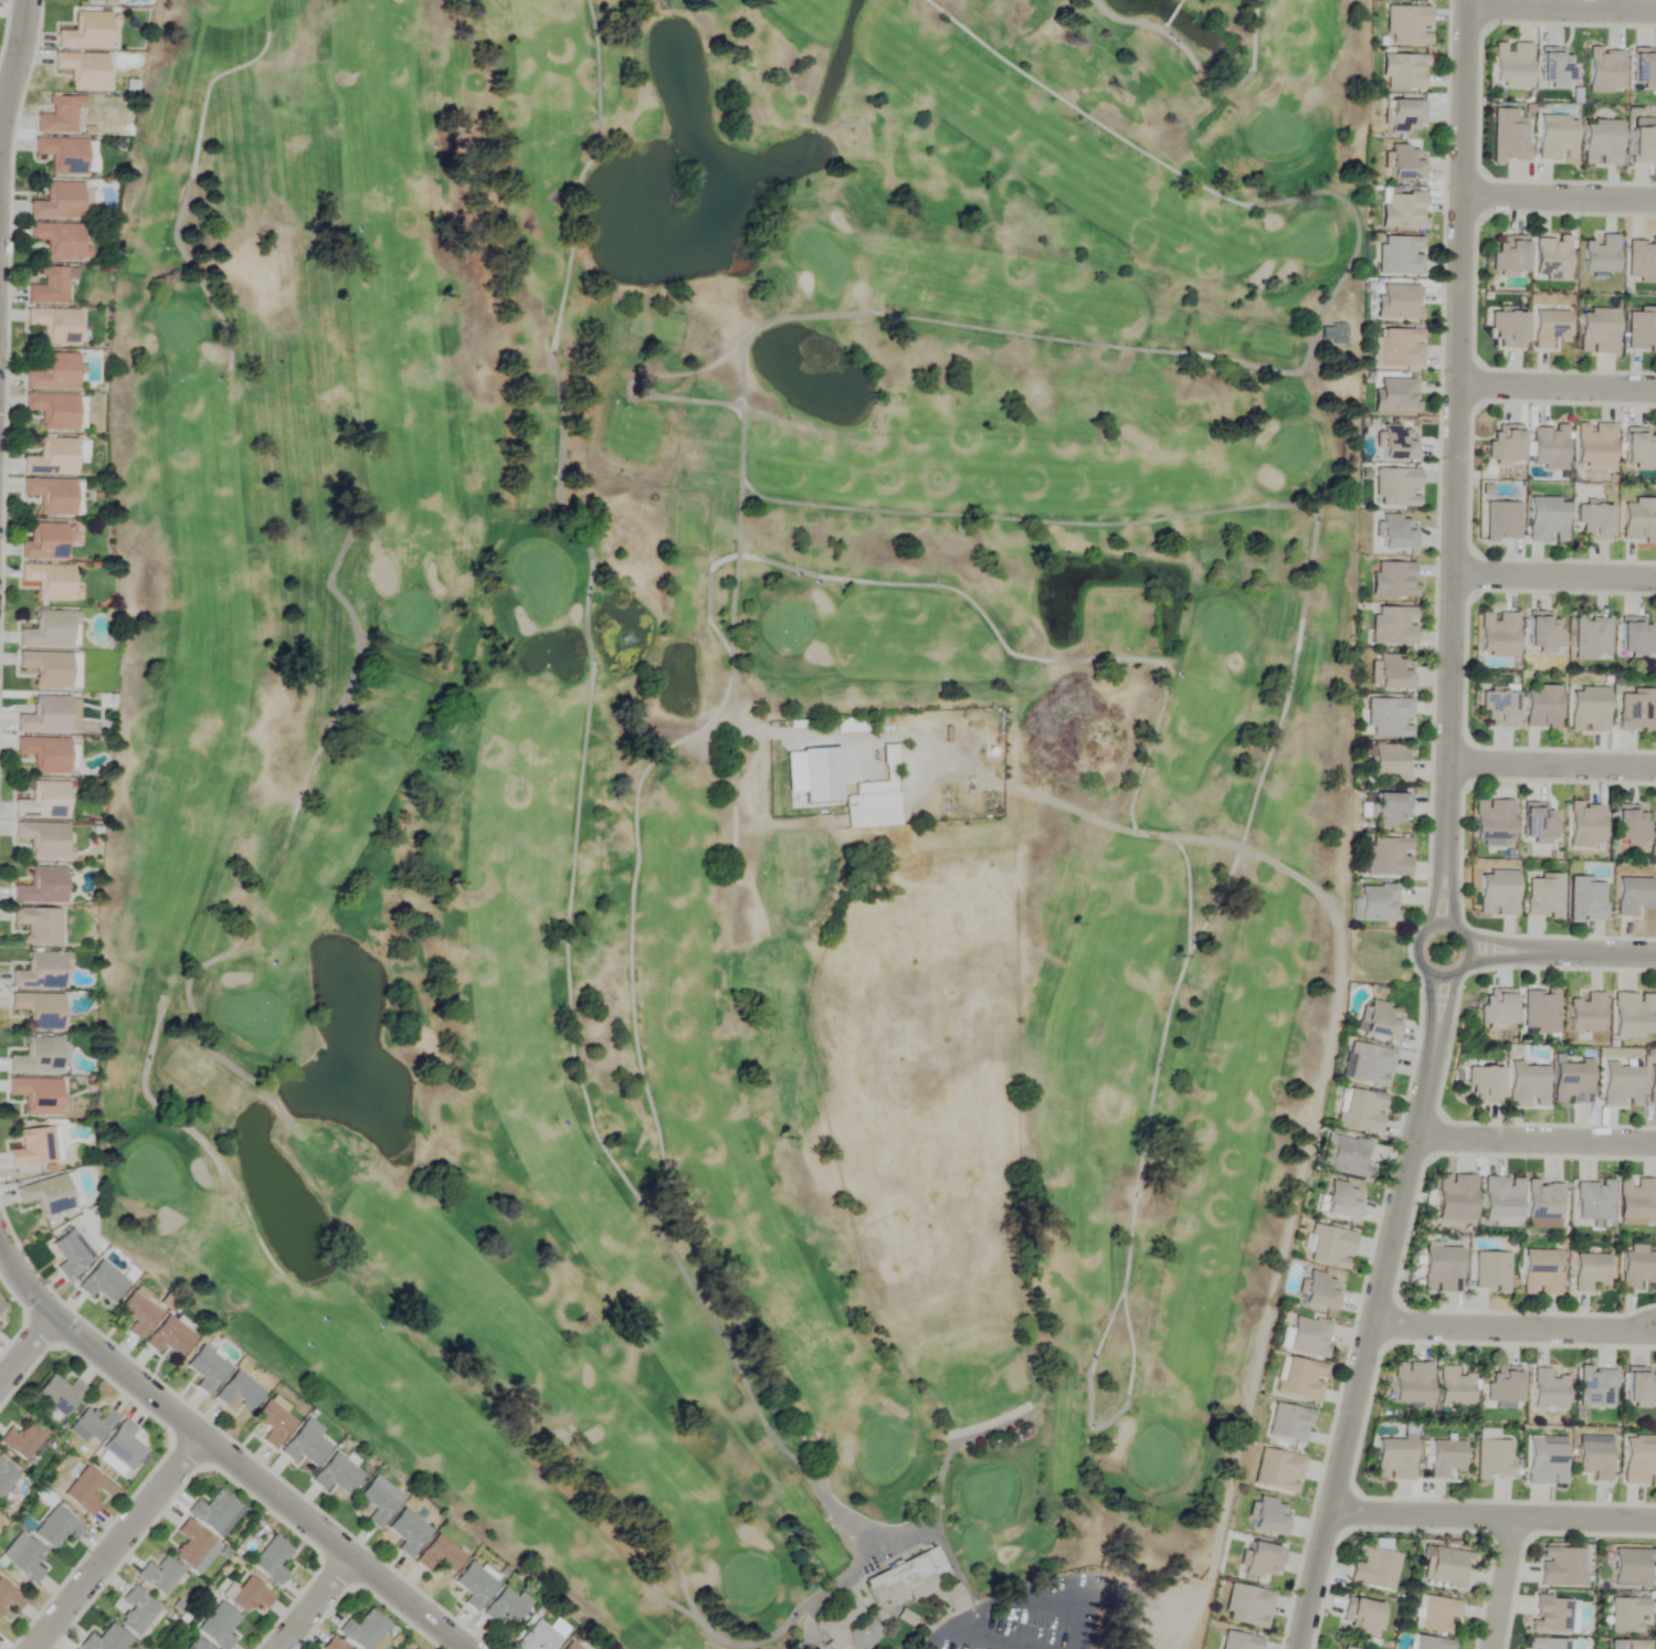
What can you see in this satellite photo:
building: (95, 0)
road: (1562, 6)
building: (1406, 25)
building: (86, 32)
building: (1511, 65)
building: (1555, 67)
building: (1643, 68)
building: (83, 70)
building: (1604, 70)
building: (1403, 72)
road: (11, 74)
building: (60, 115)
building: (1405, 116)
building: (1508, 136)
building: (1555, 138)
building: (1643, 141)
building: (1601, 142)
building: (62, 154)
building: (1405, 162)
road: (1559, 194)
building: (57, 202)
building: (1403, 211)
building: (60, 241)
building: (1510, 255)
building: (1600, 255)
building: (1400, 256)
building: (1551, 257)
building: (1641, 261)
building: (51, 286)
building: (1397, 303)
building: (55, 326)
building: (1549, 328)
building: (1507, 329)
building: (1641, 330)
building: (1597, 331)
building: (1399, 348)
building: (53, 373)
road: (1555, 384)
building: (1395, 397)
building: (53, 411)
road: (1454, 426)
building: (1397, 443)
building: (1505, 445)
building: (1593, 445)
building: (1548, 447)
building: (1638, 447)
building: (52, 458)
building: (1396, 488)
building: (50, 496)
building: (1547, 520)
building: (1638, 520)
building: (1501, 521)
building: (1593, 522)
building: (1396, 533)
building: (44, 542)
road: (1553, 573)
building: (1392, 580)
building: (49, 581)
building: (1392, 626)
building: (51, 631)
building: (1542, 631)
building: (1498, 635)
building: (1590, 638)
building: (1634, 638)
building: (50, 669)
building: (1393, 673)
building: (1498, 707)
building: (1541, 708)
building: (1588, 710)
building: (1635, 711)
building: (45, 717)
building: (1389, 718)
building: (44, 754)
building: (1391, 763)
road: (1551, 763)
park: (730, 771)
building: (840, 791)
building: (43, 802)
building: (1390, 811)
building: (1491, 823)
building: (1537, 823)
building: (1629, 825)
building: (1585, 826)
building: (44, 839)
building: (1386, 858)
building: (41, 887)
road: (1451, 887)
road: (1433, 888)
building: (1498, 894)
building: (1543, 897)
building: (1633, 898)
building: (1585, 900)
building: (1377, 903)
road: (1432, 921)
building: (38, 926)
road: (1499, 938)
road: (1594, 951)
road: (1500, 955)
building: (41, 972)
building: (1496, 1007)
building: (39, 1010)
road: (1431, 1010)
road: (1445, 1011)
building: (1539, 1011)
building: (1585, 1013)
building: (1631, 1015)
building: (1380, 1021)
building: (39, 1057)
building: (1369, 1065)
building: (1571, 1082)
building: (1483, 1084)
building: (1527, 1084)
building: (1652, 1084)
building: (1621, 1085)
building: (36, 1095)
building: (1361, 1110)
road: (1534, 1139)
building: (34, 1146)
building: (1343, 1154)
building: (46, 1194)
building: (1455, 1196)
building: (1501, 1199)
building: (1593, 1199)
building: (1341, 1201)
building: (1636, 1202)
building: (1542, 1204)
building: (1329, 1247)
building: (70, 1252)
building: (1636, 1267)
building: (1441, 1268)
building: (1490, 1270)
building: (1590, 1271)
building: (1540, 1272)
building: (102, 1281)
building: (1320, 1291)
building: (138, 1312)
road: (1513, 1326)
building: (1307, 1335)
building: (168, 1338)
road: (1365, 1349)
road: (27, 1350)
building: (205, 1370)
building: (1299, 1378)
building: (1411, 1383)
building: (1502, 1383)
building: (1453, 1386)
building: (1595, 1386)
building: (1639, 1386)
building: (1548, 1388)
building: (238, 1393)
building: (59, 1394)
building: (1288, 1423)
building: (272, 1424)
building: (92, 1425)
building: (20, 1441)
building: (304, 1447)
building: (122, 1448)
road: (223, 1452)
building: (1491, 1456)
building: (1594, 1457)
building: (1393, 1458)
building: (1444, 1458)
building: (1546, 1460)
building: (1639, 1460)
building: (1277, 1470)
building: (335, 1476)
building: (6, 1478)
building: (83, 1490)
building: (378, 1501)
building: (214, 1512)
road: (1492, 1514)
building: (1269, 1516)
building: (56, 1528)
building: (408, 1532)
road: (118, 1543)
building: (190, 1544)
building: (439, 1555)
building: (271, 1560)
building: (27, 1561)
building: (1262, 1561)
building: (1562, 1566)
building: (1373, 1567)
building: (1447, 1567)
building: (1631, 1567)
building: (158, 1575)
building: (899, 1582)
road: (1501, 1582)
building: (474, 1586)
building: (249, 1595)
building: (9, 1597)
road: (1013, 1597)
road: (316, 1603)
building: (1246, 1606)
building: (504, 1608)
building: (137, 1611)
building: (1436, 1614)
building: (1551, 1615)
building: (1626, 1615)
building: (1362, 1617)
building: (218, 1626)
building: (850, 1626)
building: (363, 1630)
building: (104, 1637)
building: (537, 1638)
building: (1238, 1641)
building: (1427, 1643)
building: (1547, 1643)
building: (197, 1645)
building: (331, 1645)
building: (1626, 1645)
building: (570, 1646)
building: (1344, 1648)

